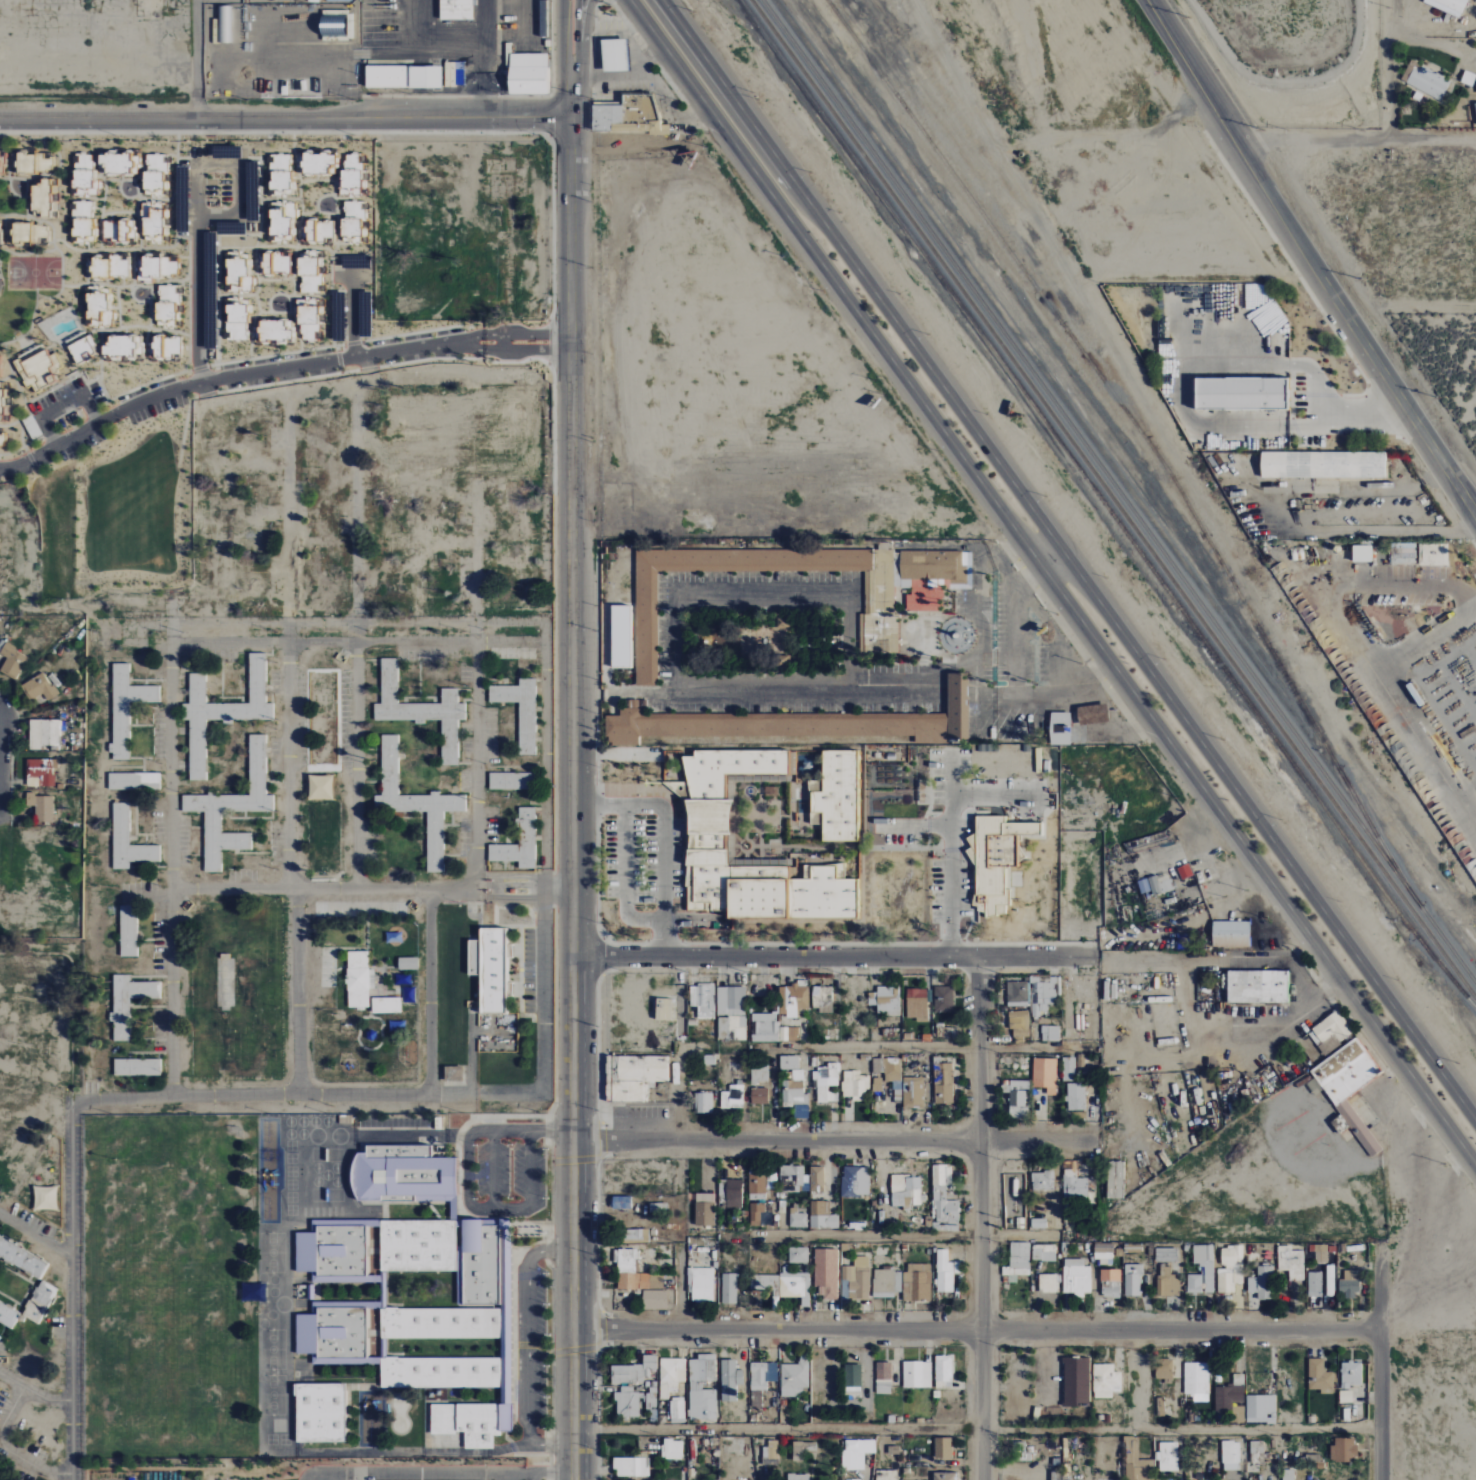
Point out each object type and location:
building: (1448, 6)
building: (455, 10)
road: (1396, 17)
building: (333, 25)
road: (576, 27)
road: (585, 27)
road: (564, 36)
road: (1446, 47)
building: (613, 56)
road: (197, 60)
road: (576, 62)
building: (527, 74)
building: (453, 75)
building: (403, 78)
building: (1429, 83)
road: (573, 94)
building: (625, 116)
road: (286, 119)
road: (1378, 137)
road: (1432, 137)
building: (24, 162)
building: (44, 163)
building: (0, 167)
road: (573, 168)
road: (197, 176)
building: (42, 196)
building: (28, 232)
road: (1309, 257)
road: (449, 301)
road: (120, 327)
road: (352, 343)
building: (1240, 392)
road: (1179, 393)
road: (83, 394)
road: (1385, 401)
road: (1367, 407)
building: (31, 427)
railway: (1137, 430)
building: (1, 440)
road: (28, 459)
building: (1323, 464)
railway: (1119, 491)
railway: (1113, 499)
railway: (1106, 505)
road: (1034, 535)
road: (1015, 549)
building: (1362, 553)
building: (1403, 553)
building: (1433, 554)
road: (1068, 561)
road: (1054, 562)
building: (930, 576)
road: (1034, 576)
road: (1053, 582)
building: (878, 593)
road: (364, 612)
road: (296, 634)
road: (1431, 635)
building: (621, 636)
road: (1375, 648)
building: (12, 660)
building: (38, 687)
building: (957, 707)
building: (126, 708)
building: (421, 710)
building: (520, 710)
building: (222, 711)
building: (1092, 714)
road: (159, 724)
road: (289, 724)
road: (481, 724)
road: (545, 724)
building: (1060, 728)
building: (43, 733)
building: (804, 761)
building: (731, 769)
building: (39, 772)
building: (133, 781)
building: (510, 781)
building: (320, 787)
building: (683, 789)
building: (837, 797)
building: (415, 803)
building: (41, 807)
building: (232, 808)
building: (707, 826)
road: (664, 840)
building: (128, 841)
road: (951, 841)
road: (572, 848)
building: (995, 861)
building: (1185, 871)
building: (828, 872)
building: (759, 873)
road: (625, 880)
road: (365, 881)
building: (706, 881)
building: (1156, 884)
building: (792, 897)
building: (128, 930)
building: (1230, 934)
road: (833, 961)
building: (489, 969)
building: (359, 980)
building: (1258, 987)
building: (1018, 992)
road: (427, 993)
building: (822, 998)
building: (885, 999)
building: (943, 999)
building: (703, 1000)
building: (793, 1000)
building: (731, 1001)
building: (128, 1003)
building: (917, 1004)
building: (386, 1005)
building: (665, 1010)
building: (1020, 1026)
building: (723, 1027)
building: (1332, 1027)
building: (771, 1029)
building: (1050, 1033)
road: (830, 1048)
building: (1081, 1061)
building: (789, 1062)
building: (136, 1067)
building: (642, 1069)
building: (1069, 1069)
building: (759, 1073)
building: (453, 1074)
building: (891, 1074)
building: (1045, 1074)
building: (611, 1079)
parking lot: (600, 1081)
building: (827, 1082)
building: (943, 1083)
building: (877, 1084)
building: (855, 1085)
building: (1349, 1086)
building: (632, 1092)
building: (913, 1093)
building: (796, 1095)
building: (759, 1096)
building: (733, 1097)
building: (1076, 1097)
road: (596, 1099)
building: (703, 1103)
building: (1018, 1103)
road: (309, 1105)
road: (626, 1119)
road: (833, 1141)
road: (467, 1150)
road: (530, 1166)
building: (405, 1174)
building: (791, 1179)
building: (817, 1179)
building: (1115, 1180)
building: (1043, 1181)
building: (771, 1182)
building: (851, 1182)
building: (757, 1184)
building: (1075, 1185)
building: (722, 1187)
road: (681, 1188)
building: (906, 1191)
building: (734, 1193)
building: (44, 1198)
building: (944, 1201)
building: (621, 1203)
building: (658, 1208)
building: (704, 1209)
building: (756, 1213)
building: (821, 1216)
building: (797, 1217)
road: (981, 1220)
building: (1039, 1223)
road: (606, 1224)
road: (35, 1235)
building: (634, 1236)
road: (594, 1237)
road: (870, 1238)
building: (663, 1249)
building: (337, 1251)
building: (1104, 1251)
building: (1044, 1253)
building: (1319, 1253)
building: (799, 1255)
building: (1166, 1255)
building: (1018, 1260)
building: (630, 1261)
building: (1291, 1263)
building: (1209, 1269)
building: (1230, 1269)
building: (945, 1272)
building: (827, 1273)
building: (1077, 1277)
building: (858, 1278)
building: (1133, 1280)
building: (657, 1281)
building: (1330, 1281)
building: (636, 1282)
building: (917, 1282)
building: (1168, 1282)
building: (887, 1283)
building: (1048, 1283)
building: (1111, 1283)
building: (1265, 1283)
building: (701, 1284)
building: (1315, 1284)
building: (1349, 1284)
building: (794, 1285)
building: (729, 1289)
road: (71, 1290)
road: (604, 1296)
building: (656, 1300)
building: (39, 1302)
building: (8, 1315)
building: (430, 1322)
road: (975, 1330)
road: (1017, 1348)
road: (1049, 1348)
road: (528, 1349)
road: (1379, 1362)
road: (999, 1366)
building: (944, 1369)
building: (1163, 1369)
building: (634, 1371)
building: (736, 1374)
building: (917, 1374)
building: (672, 1375)
building: (1320, 1377)
building: (795, 1378)
building: (884, 1378)
building: (762, 1379)
building: (853, 1381)
building: (1106, 1381)
building: (1197, 1381)
building: (1077, 1383)
parking lot: (1031, 1386)
building: (703, 1387)
road: (1017, 1390)
road: (1049, 1390)
road: (34, 1394)
building: (1346, 1397)
building: (652, 1398)
building: (1231, 1400)
building: (628, 1403)
road: (10, 1407)
building: (1160, 1407)
building: (1256, 1407)
building: (678, 1410)
building: (319, 1413)
road: (1033, 1415)
road: (975, 1430)
building: (943, 1448)
building: (672, 1449)
building: (802, 1450)
building: (1344, 1450)
building: (770, 1452)
building: (856, 1453)
building: (1257, 1453)
building: (1168, 1456)
building: (1231, 1456)
building: (1137, 1464)
road: (31, 1466)
building: (631, 1467)
road: (448, 1475)
building: (886, 1475)
building: (1288, 1475)
building: (944, 1476)
road: (504, 1477)
road: (533, 1477)
building: (797, 1477)
building: (843, 1479)

